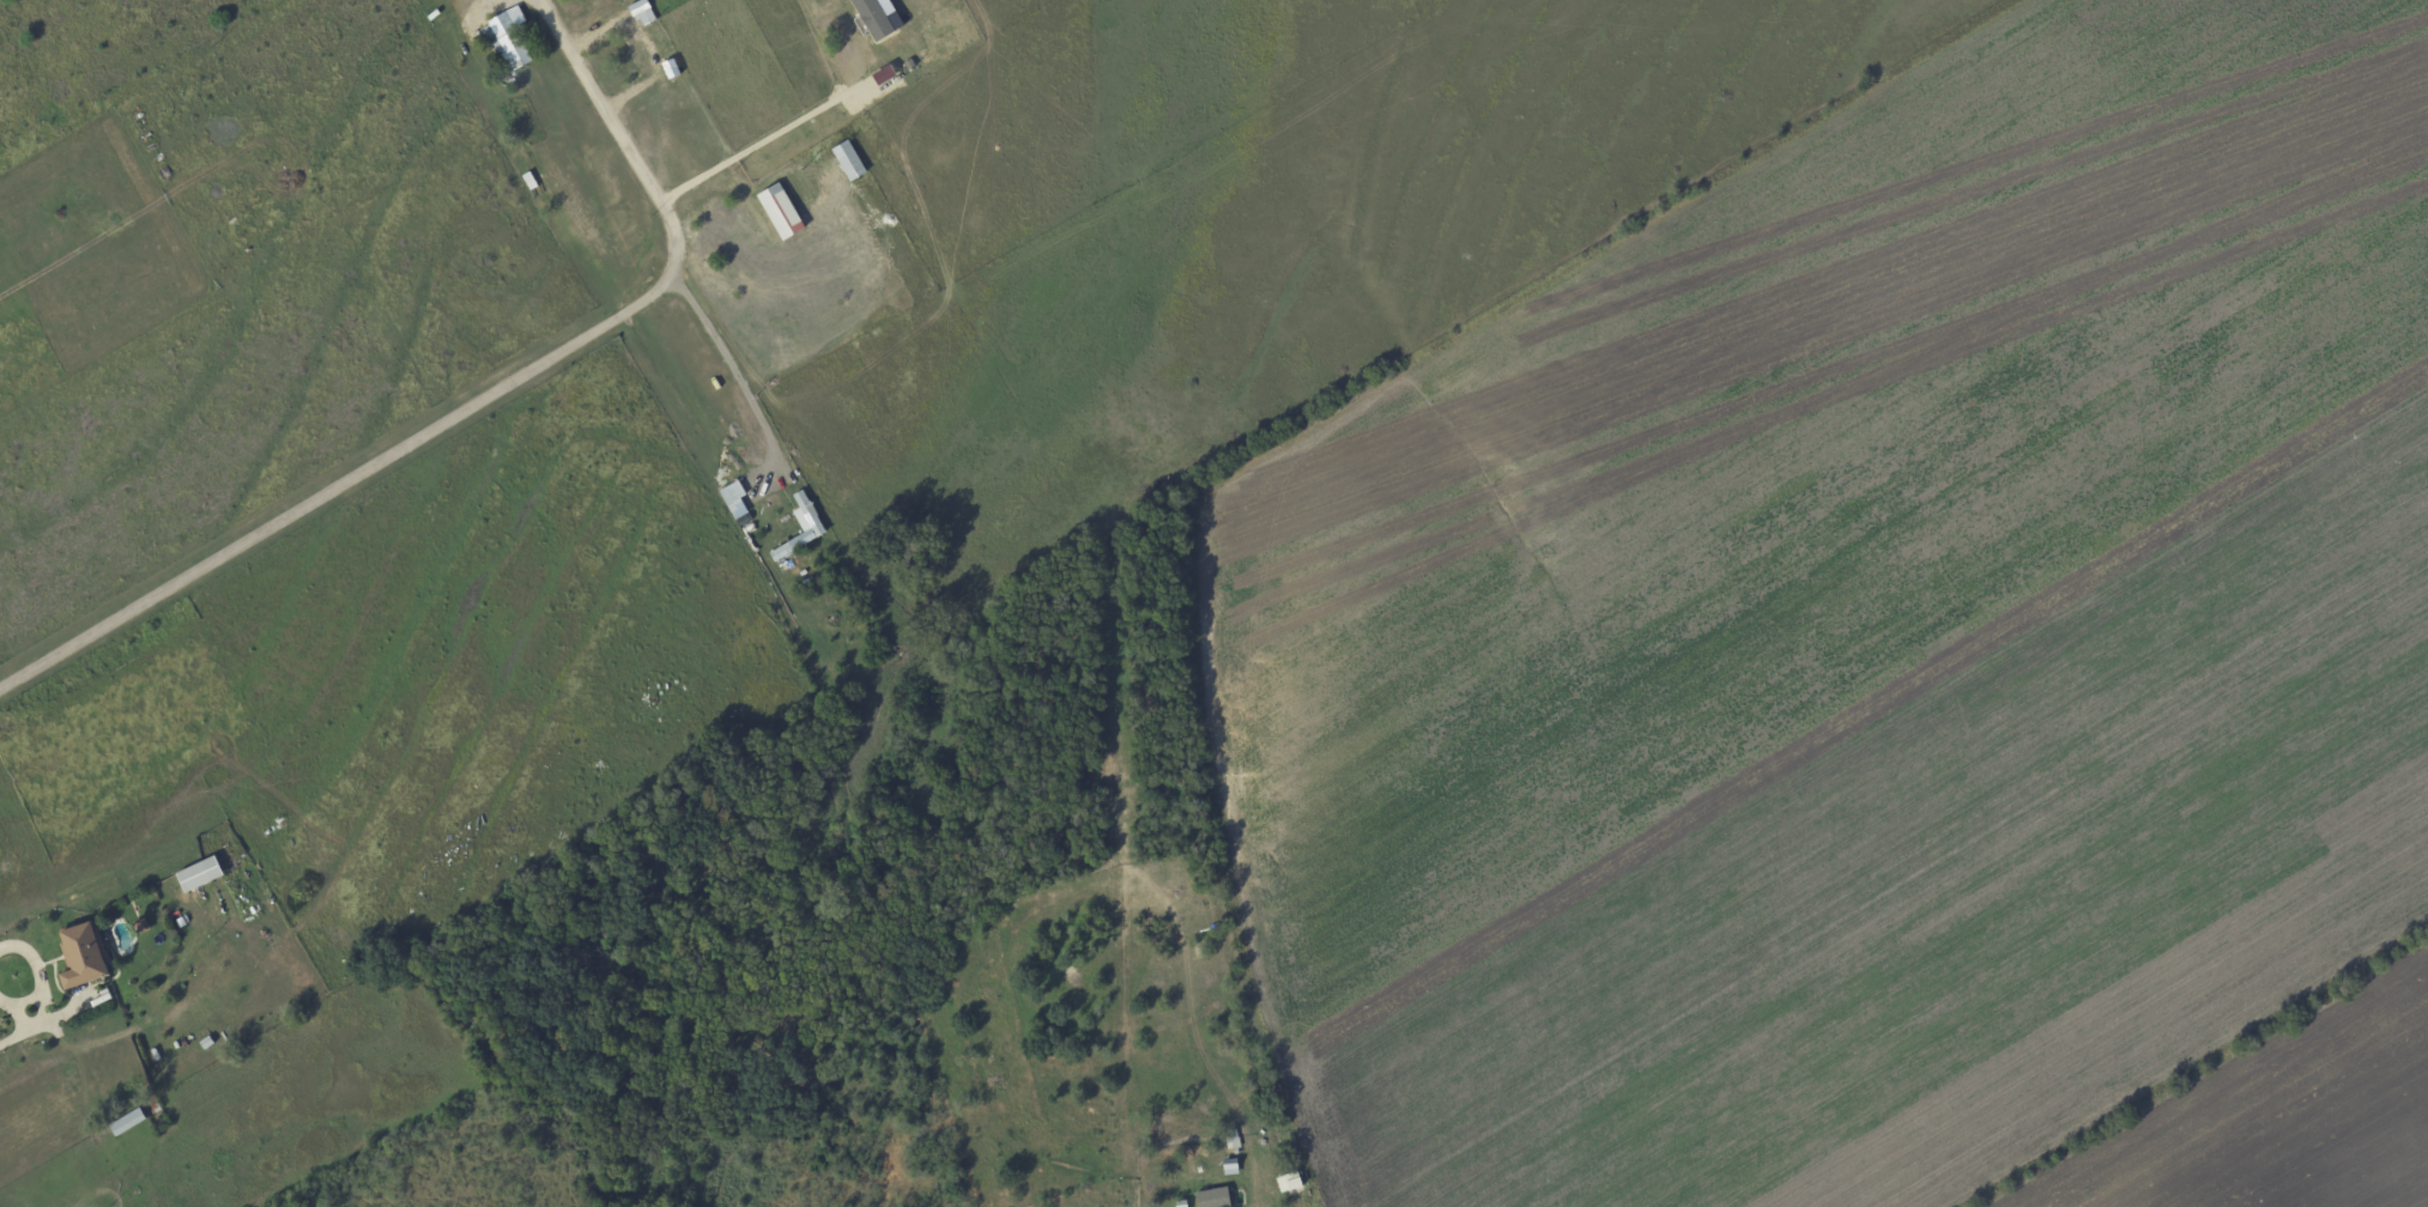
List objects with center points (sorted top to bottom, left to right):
building: (643, 13)
building: (876, 19)
building: (507, 41)
building: (850, 162)
building: (531, 182)
building: (782, 212)
road: (733, 371)
road: (474, 404)
building: (735, 499)
building: (810, 511)
building: (201, 874)
building: (84, 957)
road: (22, 1032)
building: (128, 1122)
building: (1231, 1166)
building: (1291, 1182)
building: (1216, 1197)

